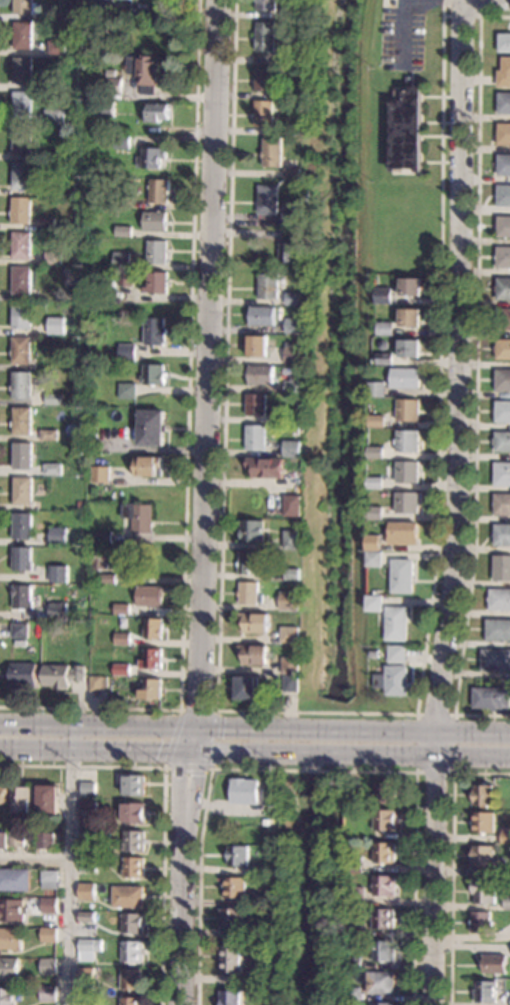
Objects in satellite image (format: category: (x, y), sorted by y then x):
road: (467, 1)
building: (75, 4)
building: (267, 5)
road: (407, 5)
building: (25, 7)
building: (290, 11)
building: (78, 14)
road: (469, 15)
building: (23, 35)
parking lot: (402, 35)
building: (266, 37)
building: (504, 43)
building: (58, 47)
building: (291, 55)
building: (297, 68)
building: (22, 71)
building: (144, 72)
building: (111, 73)
building: (504, 73)
building: (264, 78)
building: (49, 83)
building: (112, 85)
building: (53, 97)
building: (504, 103)
building: (22, 105)
building: (103, 109)
building: (157, 112)
building: (264, 114)
building: (55, 117)
building: (407, 129)
building: (504, 134)
building: (22, 140)
building: (121, 141)
building: (273, 152)
building: (151, 158)
building: (504, 164)
building: (292, 173)
building: (23, 175)
building: (49, 188)
building: (159, 190)
building: (504, 195)
building: (268, 200)
building: (124, 202)
building: (21, 210)
building: (291, 217)
building: (155, 221)
building: (48, 224)
building: (504, 226)
building: (123, 231)
building: (22, 245)
building: (157, 252)
building: (287, 252)
building: (54, 257)
building: (503, 257)
building: (122, 260)
building: (126, 278)
building: (22, 280)
building: (158, 283)
building: (269, 286)
building: (411, 287)
building: (503, 288)
building: (82, 293)
building: (383, 295)
building: (294, 299)
building: (22, 316)
building: (263, 316)
building: (411, 317)
building: (503, 318)
building: (56, 325)
building: (294, 325)
building: (385, 328)
building: (155, 331)
building: (383, 345)
building: (258, 346)
building: (411, 348)
river: (337, 349)
building: (503, 349)
building: (22, 350)
building: (127, 353)
building: (292, 353)
building: (385, 358)
building: (79, 364)
building: (153, 374)
road: (205, 374)
building: (261, 375)
building: (406, 378)
road: (477, 379)
building: (503, 380)
building: (22, 384)
building: (293, 384)
building: (377, 389)
building: (127, 391)
building: (53, 399)
building: (256, 405)
building: (409, 410)
building: (503, 411)
building: (79, 412)
building: (22, 421)
building: (377, 421)
building: (151, 427)
building: (49, 435)
building: (256, 437)
building: (295, 439)
building: (409, 441)
building: (503, 441)
building: (44, 445)
road: (186, 445)
building: (292, 448)
building: (377, 452)
building: (23, 456)
building: (148, 467)
building: (266, 467)
building: (53, 469)
building: (409, 472)
building: (100, 474)
building: (503, 474)
building: (376, 483)
building: (23, 491)
building: (409, 503)
building: (79, 504)
road: (461, 504)
building: (502, 504)
building: (293, 505)
building: (376, 513)
building: (139, 520)
building: (22, 525)
building: (252, 531)
building: (406, 533)
building: (58, 535)
building: (503, 535)
building: (104, 538)
building: (292, 539)
building: (375, 542)
building: (22, 558)
building: (104, 558)
building: (376, 559)
building: (250, 562)
building: (502, 568)
building: (59, 574)
building: (292, 574)
building: (404, 576)
building: (106, 578)
building: (249, 593)
building: (149, 596)
building: (22, 597)
building: (500, 599)
building: (289, 600)
building: (375, 603)
building: (122, 609)
building: (58, 612)
building: (255, 623)
building: (398, 623)
building: (153, 628)
building: (498, 629)
building: (20, 630)
building: (290, 635)
building: (122, 638)
building: (254, 654)
building: (376, 654)
building: (398, 654)
building: (151, 659)
building: (495, 660)
building: (291, 665)
building: (121, 669)
building: (23, 675)
building: (62, 676)
building: (394, 681)
building: (98, 683)
building: (291, 683)
building: (246, 688)
building: (151, 689)
building: (491, 698)
road: (319, 712)
road: (255, 728)
river: (325, 739)
road: (96, 748)
traffic signals: (193, 749)
road: (351, 752)
road: (205, 768)
road: (452, 772)
building: (134, 785)
road: (415, 786)
building: (89, 787)
building: (245, 791)
building: (386, 793)
building: (3, 794)
building: (484, 795)
building: (353, 797)
building: (21, 800)
building: (48, 800)
road: (164, 803)
building: (89, 805)
building: (134, 813)
building: (386, 820)
building: (483, 822)
building: (88, 833)
building: (349, 835)
building: (505, 837)
building: (17, 839)
building: (3, 840)
building: (46, 841)
building: (134, 841)
building: (385, 853)
road: (35, 856)
building: (239, 856)
building: (483, 856)
road: (452, 859)
building: (88, 864)
building: (355, 864)
road: (70, 865)
building: (134, 867)
building: (264, 870)
building: (507, 871)
road: (185, 876)
building: (15, 879)
building: (50, 879)
building: (385, 885)
road: (199, 886)
building: (236, 887)
building: (484, 890)
river: (313, 891)
building: (87, 892)
building: (358, 896)
building: (128, 897)
building: (260, 900)
building: (507, 902)
building: (49, 905)
building: (12, 910)
building: (87, 917)
building: (233, 918)
building: (385, 919)
building: (481, 922)
building: (133, 923)
building: (260, 930)
building: (357, 930)
building: (50, 935)
building: (11, 939)
building: (89, 949)
building: (132, 951)
building: (385, 951)
building: (233, 959)
building: (354, 963)
building: (495, 964)
building: (49, 966)
building: (9, 968)
building: (267, 973)
building: (86, 976)
building: (132, 980)
building: (382, 983)
building: (486, 992)
building: (48, 993)
building: (354, 993)
building: (7, 996)
building: (231, 998)
building: (131, 1001)
building: (383, 1003)
building: (86, 1004)

